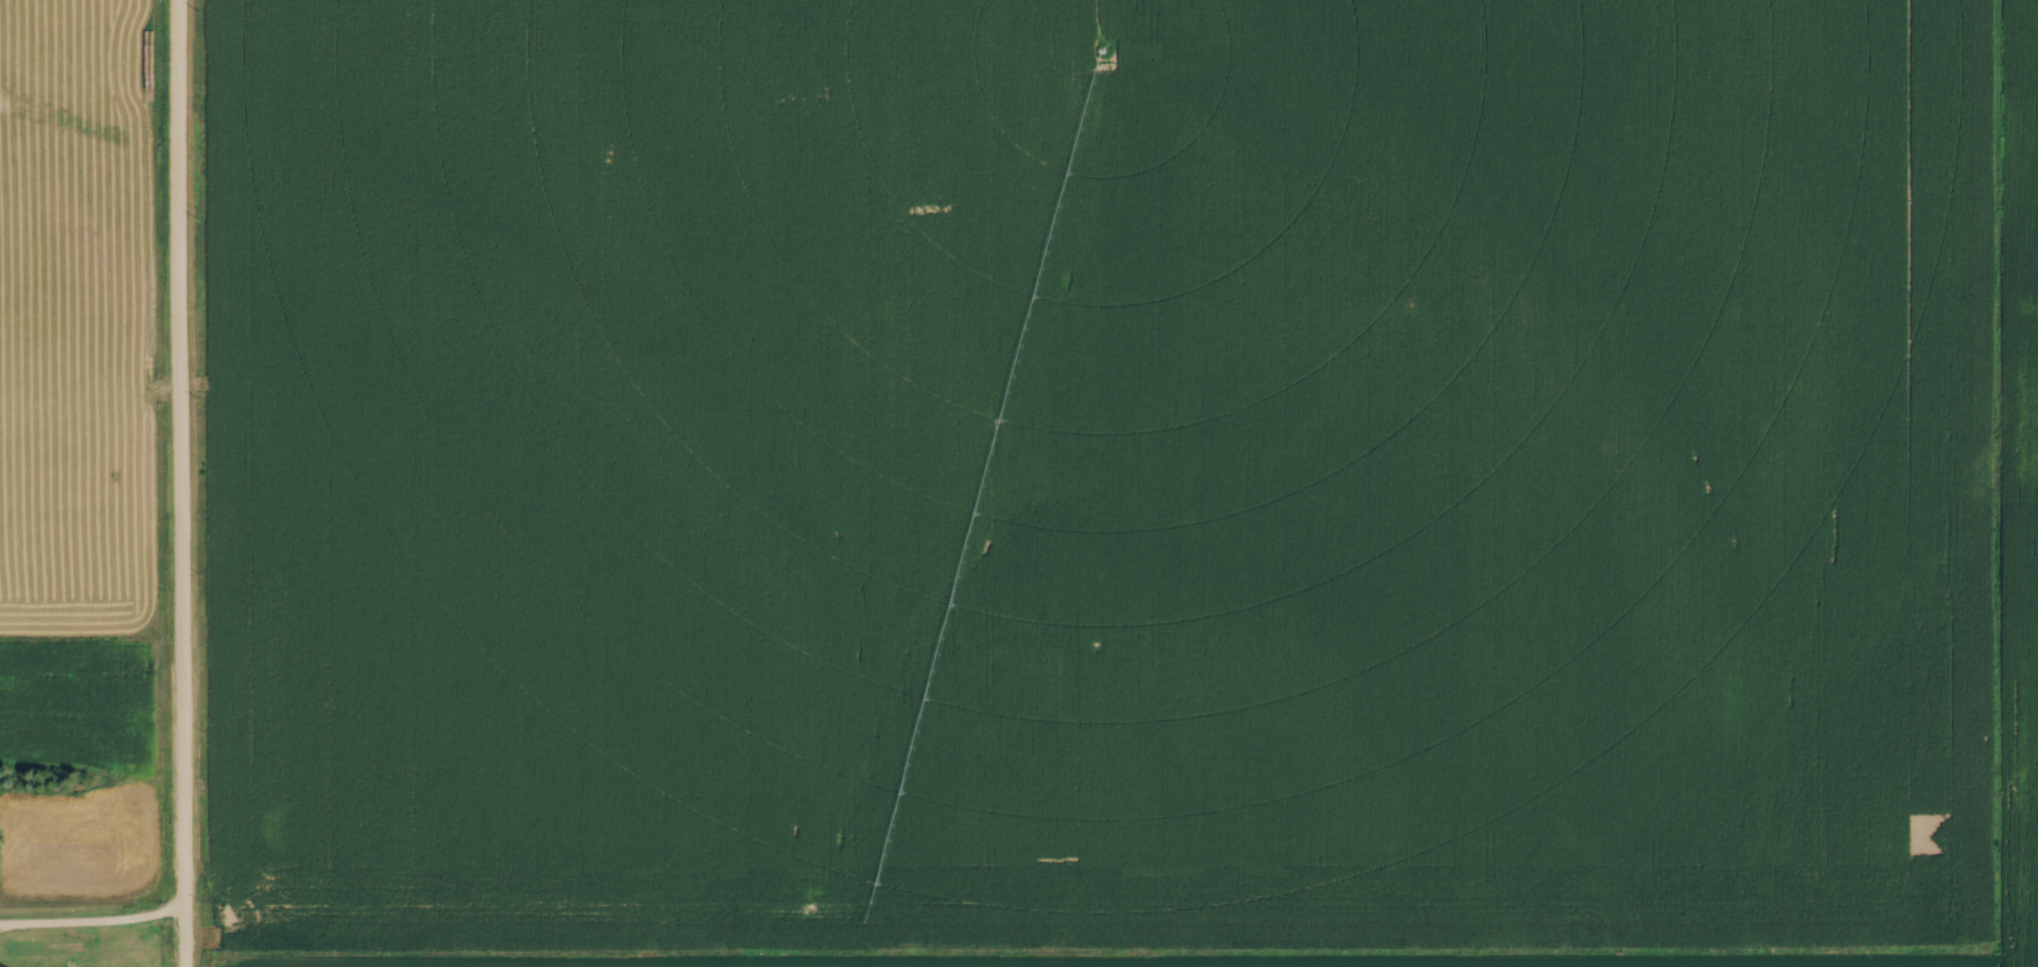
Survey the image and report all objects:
road: (182, 483)
road: (93, 924)

